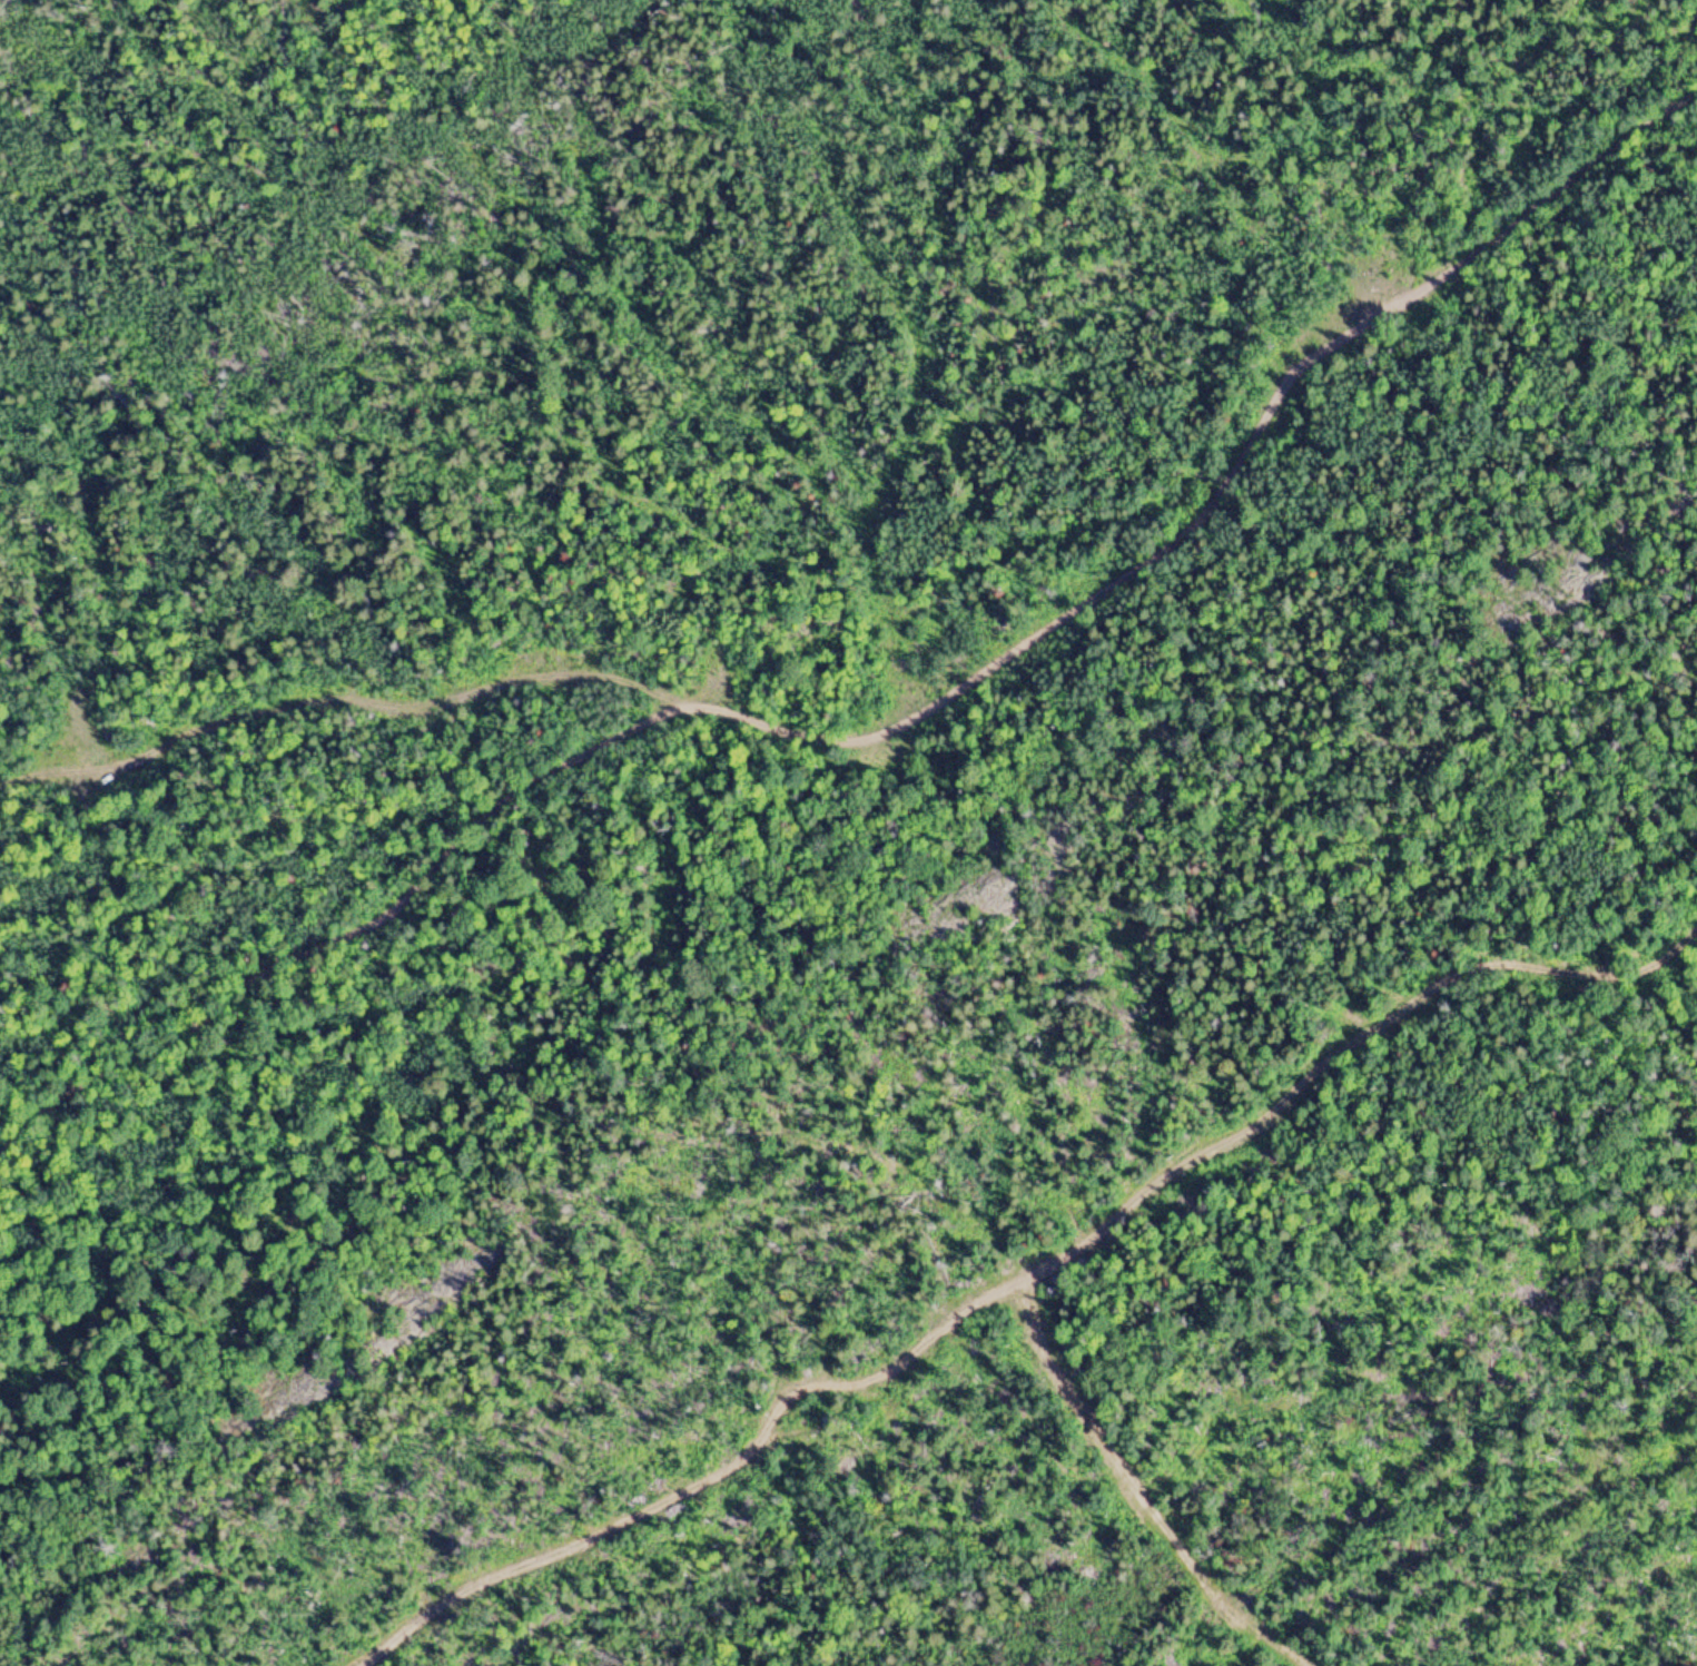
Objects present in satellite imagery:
road: (958, 687)

